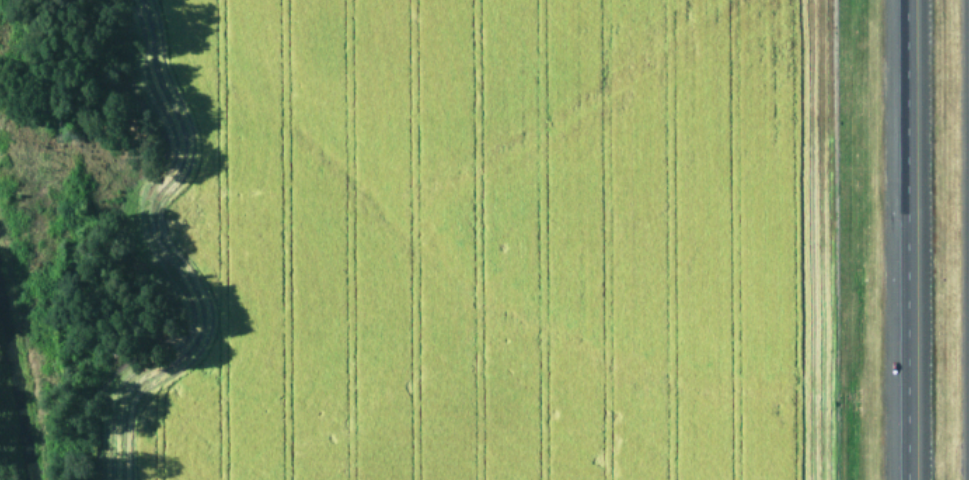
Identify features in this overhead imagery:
crop: (475, 238)
road: (906, 240)

